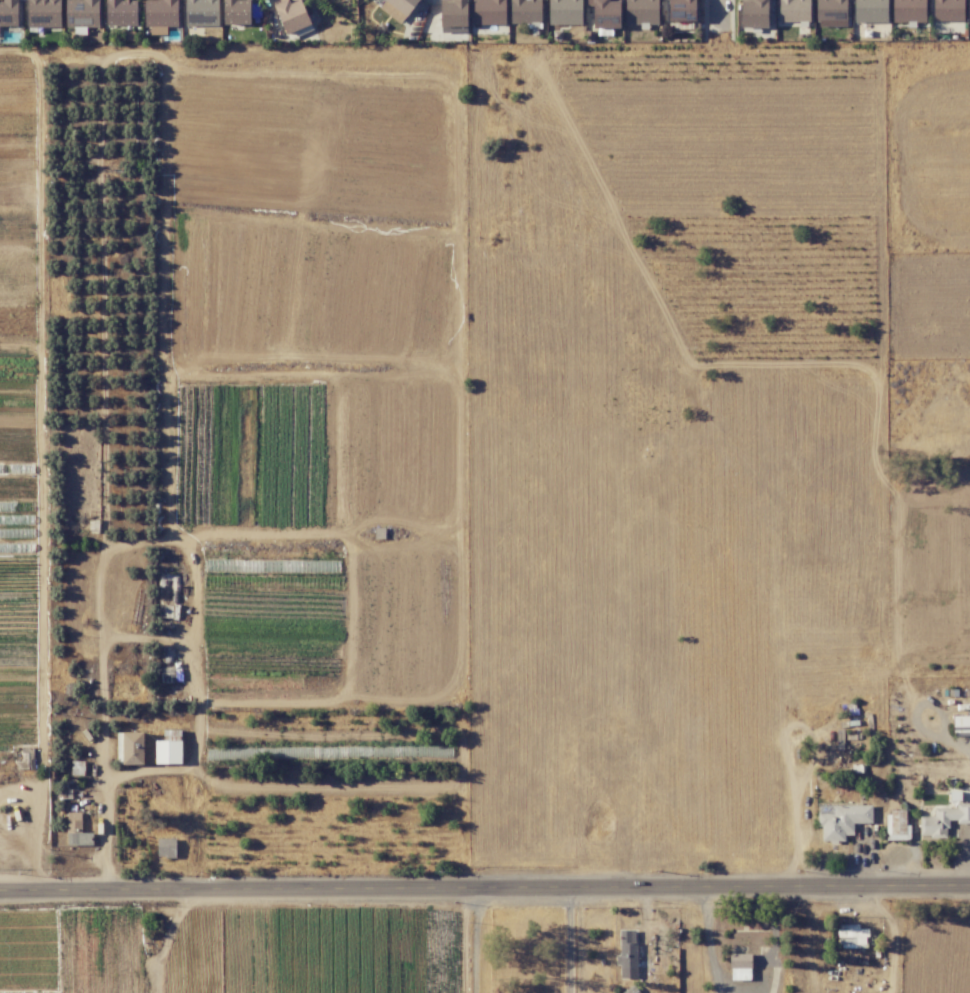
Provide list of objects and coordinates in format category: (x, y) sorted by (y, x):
building: (397, 8)
building: (969, 9)
building: (682, 10)
building: (794, 10)
building: (831, 10)
building: (948, 10)
building: (525, 11)
building: (641, 11)
building: (870, 11)
building: (908, 11)
building: (8, 12)
building: (121, 12)
building: (201, 12)
building: (236, 12)
building: (489, 12)
building: (565, 12)
building: (43, 13)
building: (82, 13)
building: (605, 13)
building: (754, 13)
building: (292, 15)
road: (718, 15)
building: (160, 16)
building: (453, 16)
road: (131, 543)
building: (961, 726)
building: (130, 748)
building: (77, 768)
building: (841, 820)
building: (943, 820)
building: (897, 826)
building: (76, 831)
building: (166, 847)
road: (484, 885)
road: (893, 934)
building: (851, 936)
road: (482, 938)
road: (571, 938)
road: (711, 938)
building: (628, 953)
building: (740, 966)

